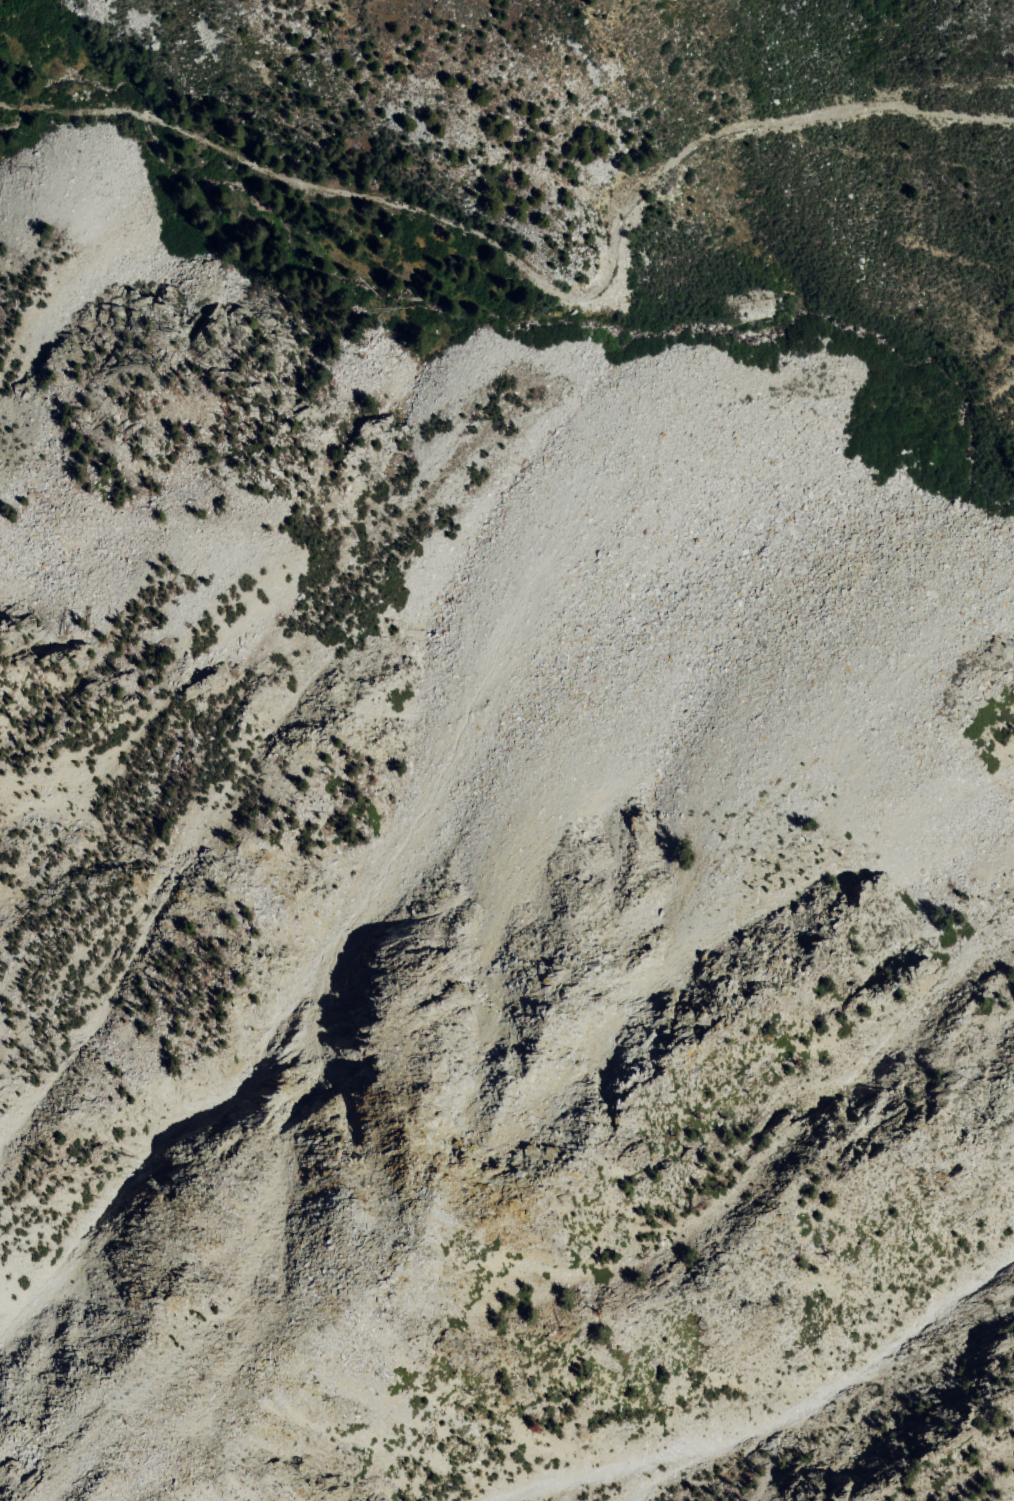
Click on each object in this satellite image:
road: (537, 276)

